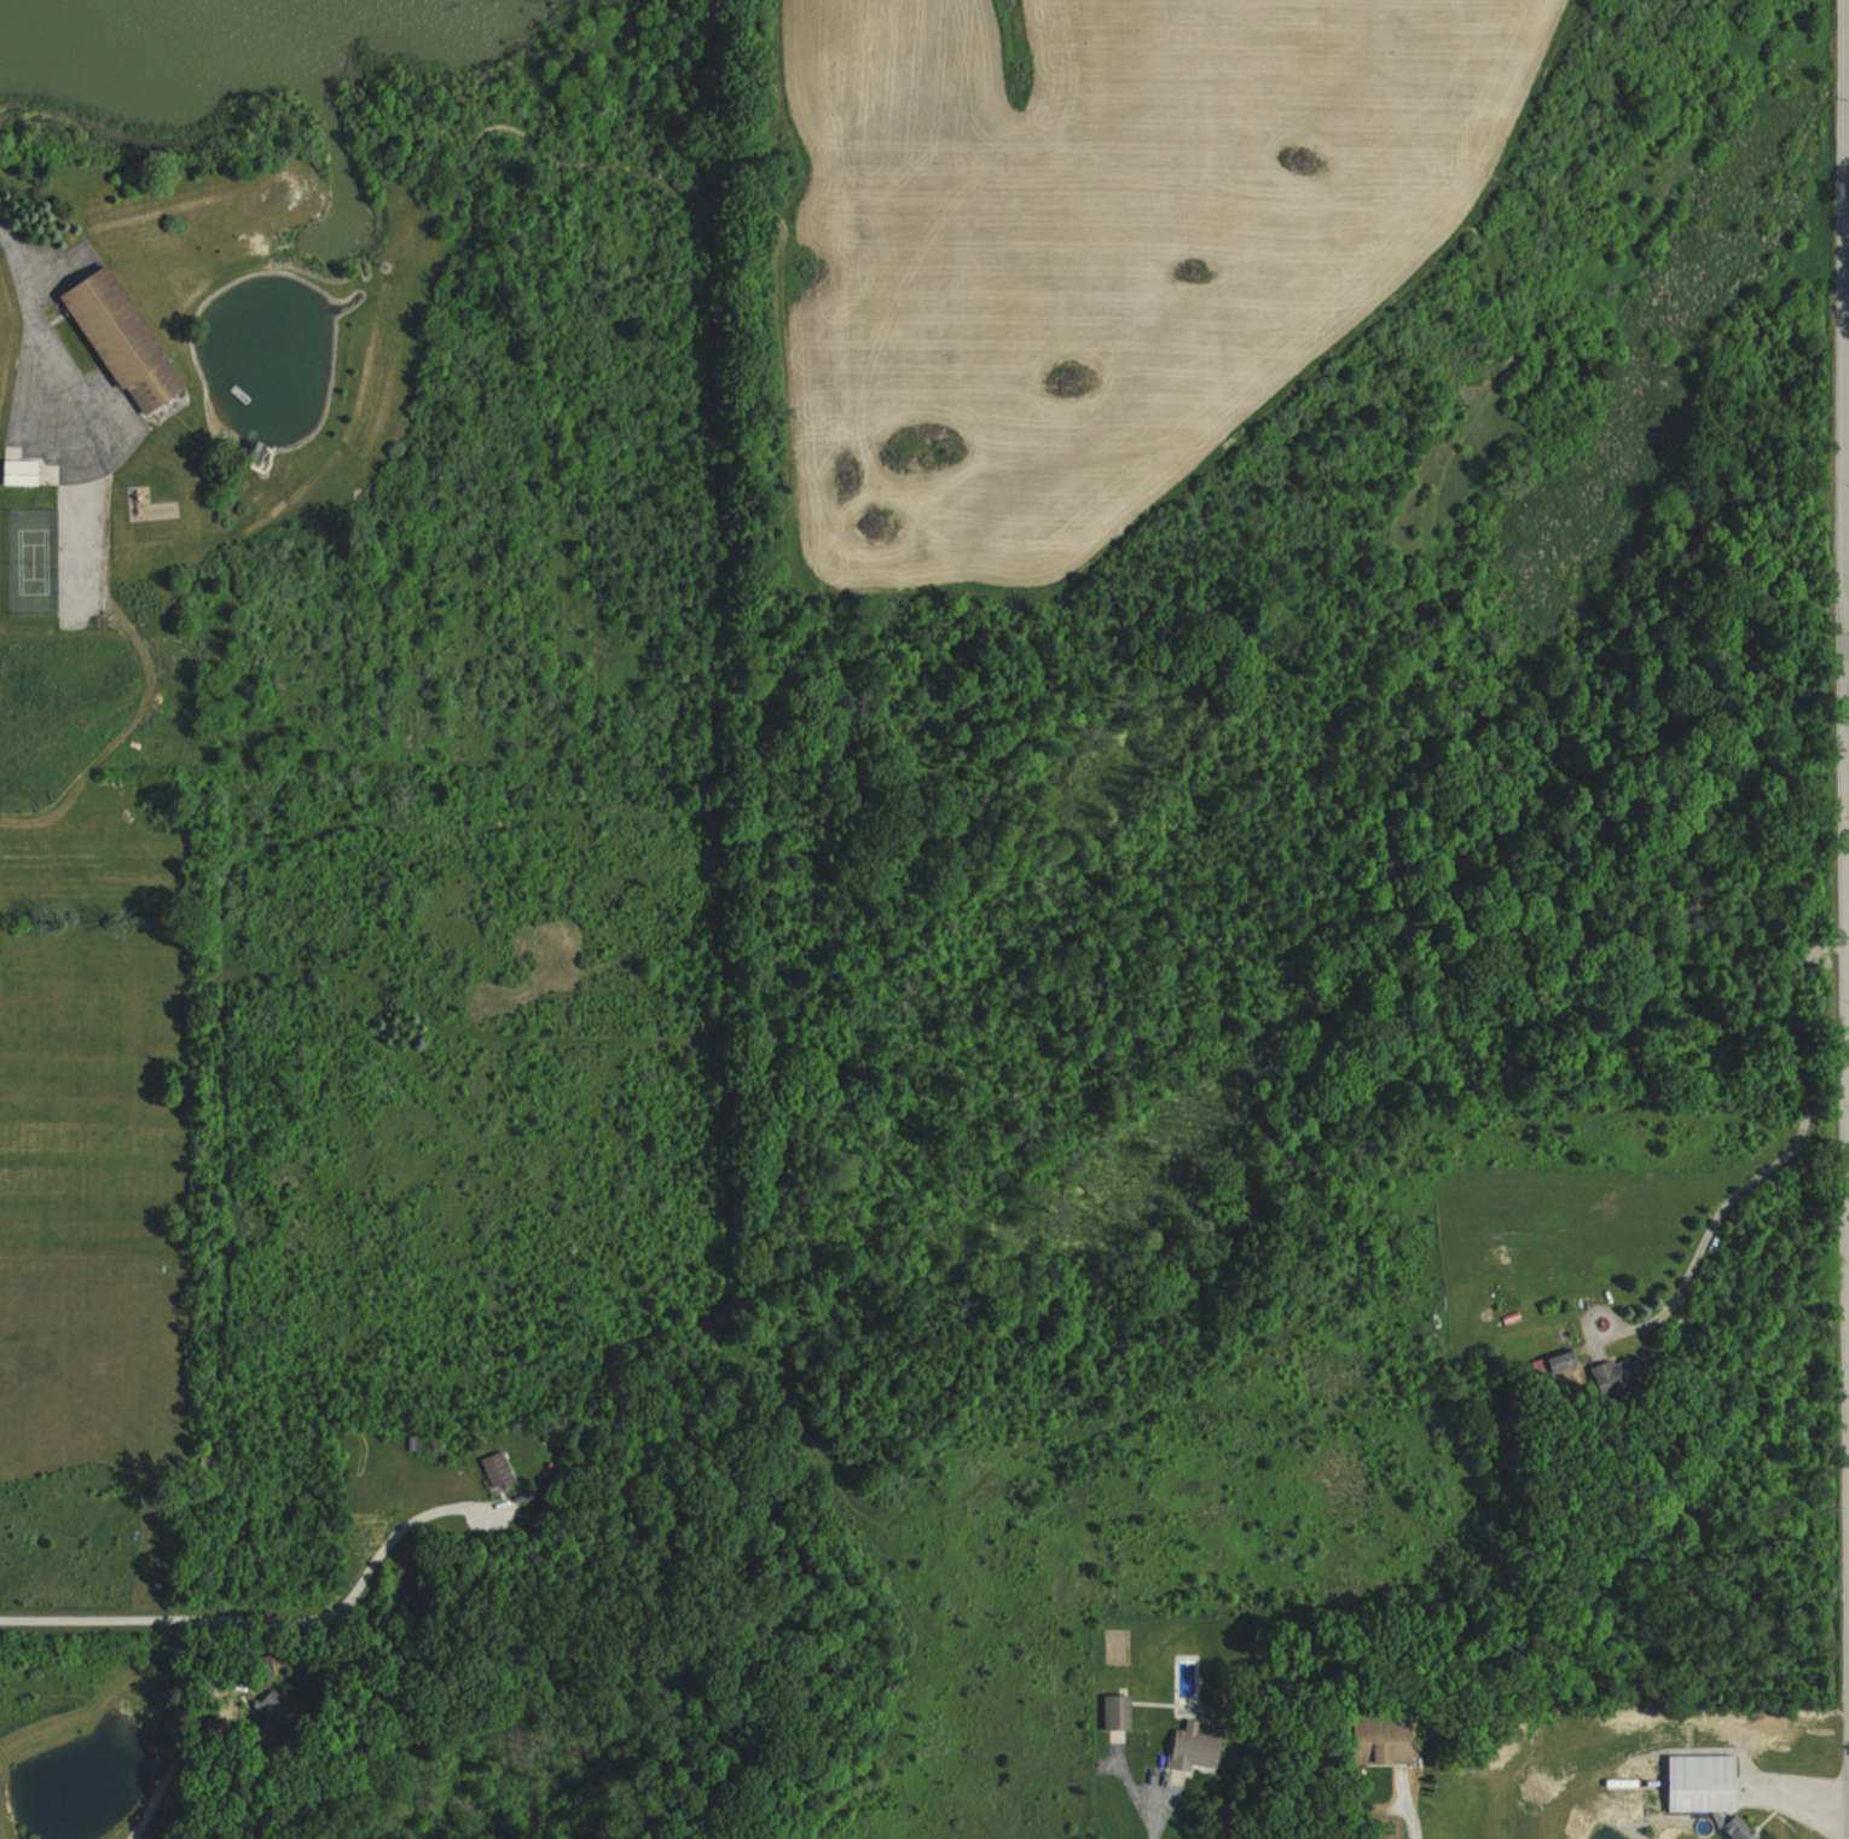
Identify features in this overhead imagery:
road: (1848, 106)
road: (33, 298)
building: (126, 340)
building: (21, 470)
building: (1567, 1361)
building: (1623, 1377)
building: (498, 1469)
road: (261, 1617)
building: (1117, 1711)
building: (1389, 1738)
building: (1194, 1750)
building: (1703, 1782)
road: (1409, 1815)
building: (1739, 1829)

